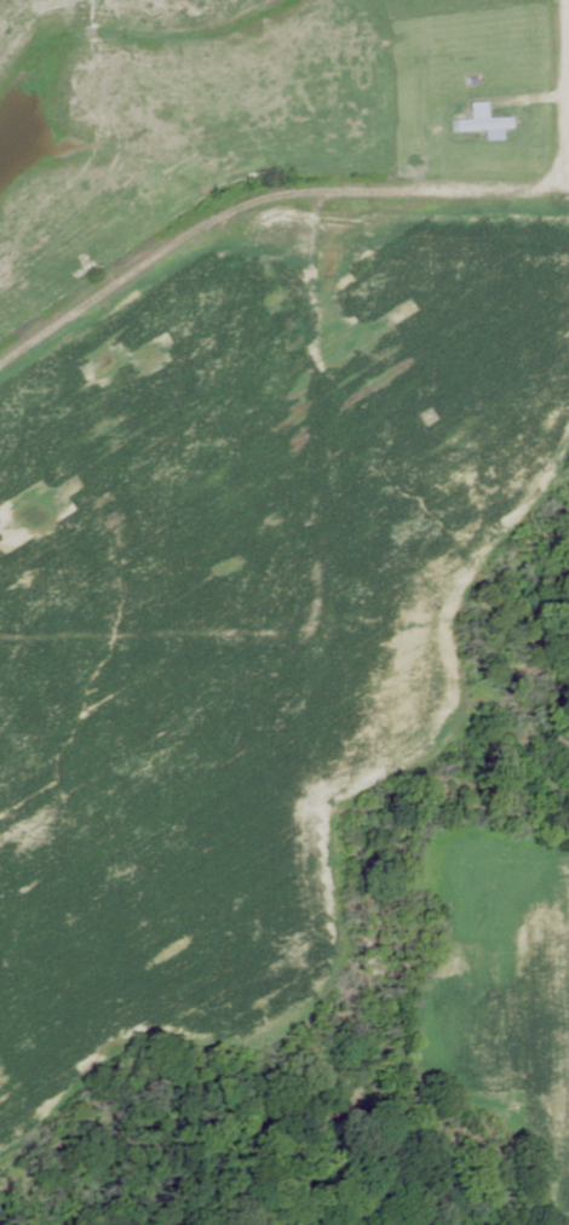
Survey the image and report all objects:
road: (567, 86)
building: (479, 120)

